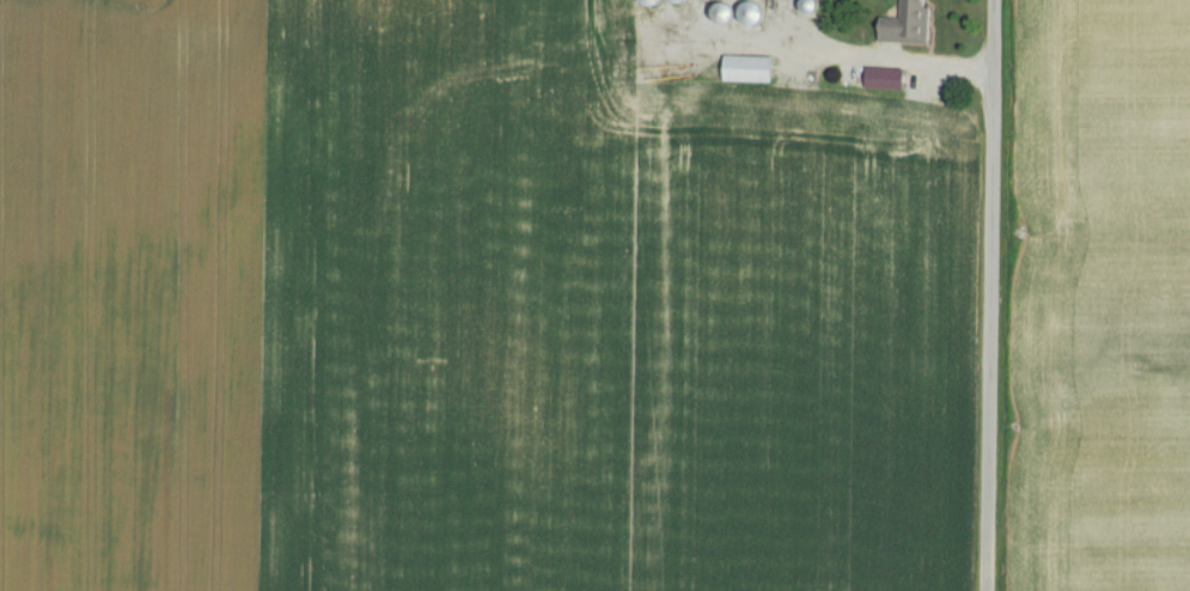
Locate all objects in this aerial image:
building: (909, 26)
road: (849, 54)
building: (890, 80)
road: (985, 294)

